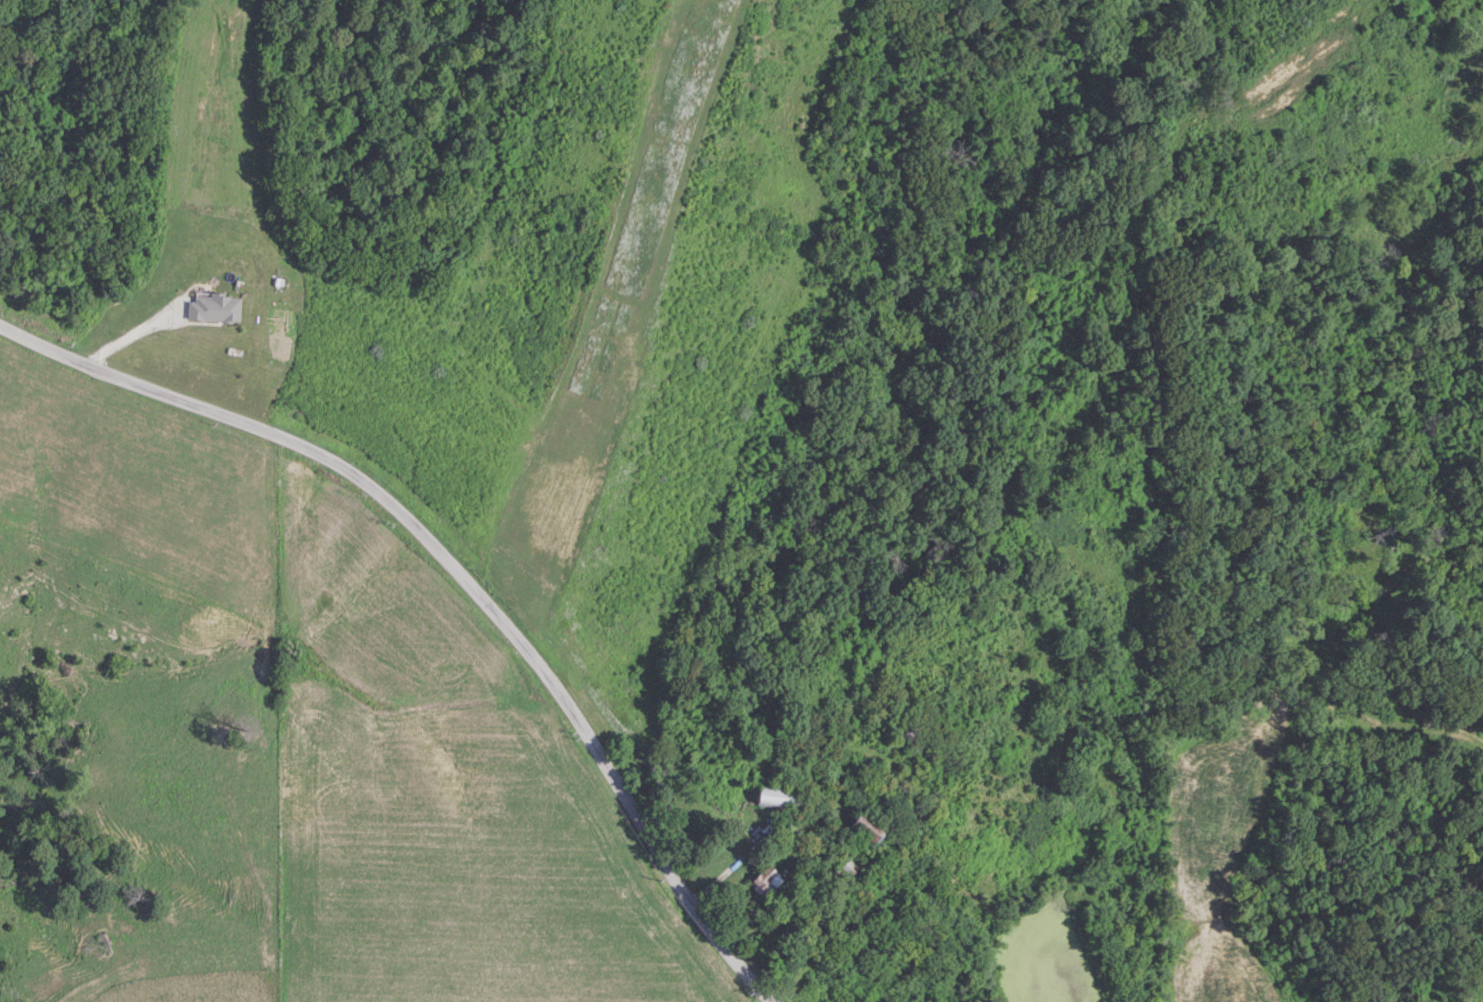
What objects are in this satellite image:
road: (459, 575)
building: (907, 733)
building: (777, 797)
building: (866, 828)
building: (847, 867)
building: (765, 880)

